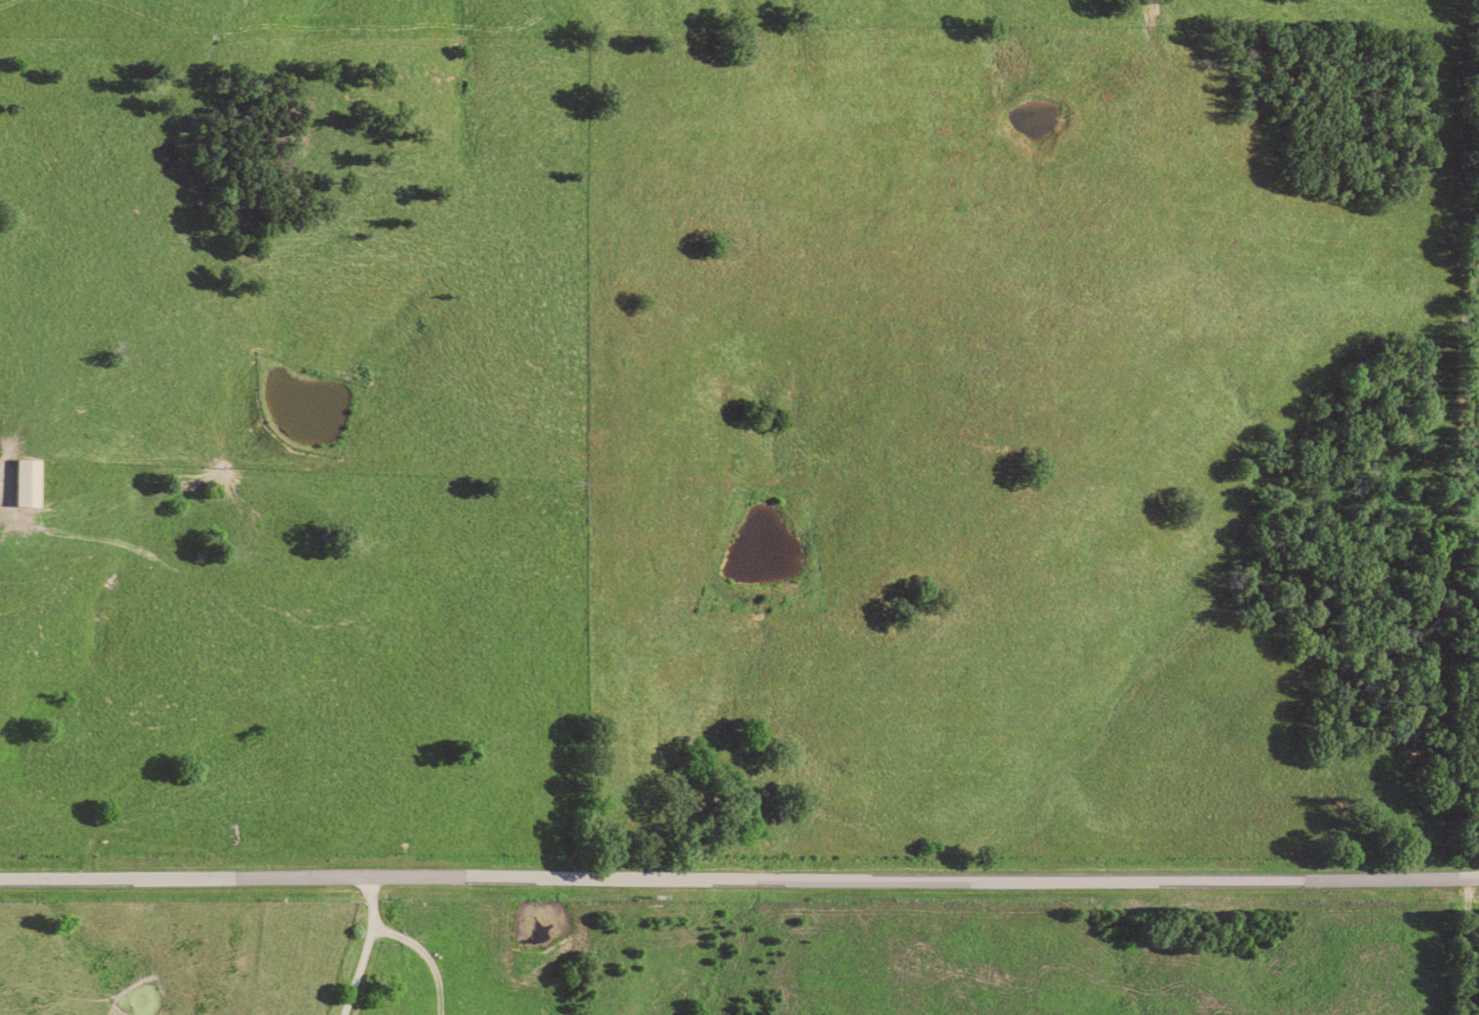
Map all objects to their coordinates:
road: (739, 879)
road: (364, 947)
road: (422, 956)

